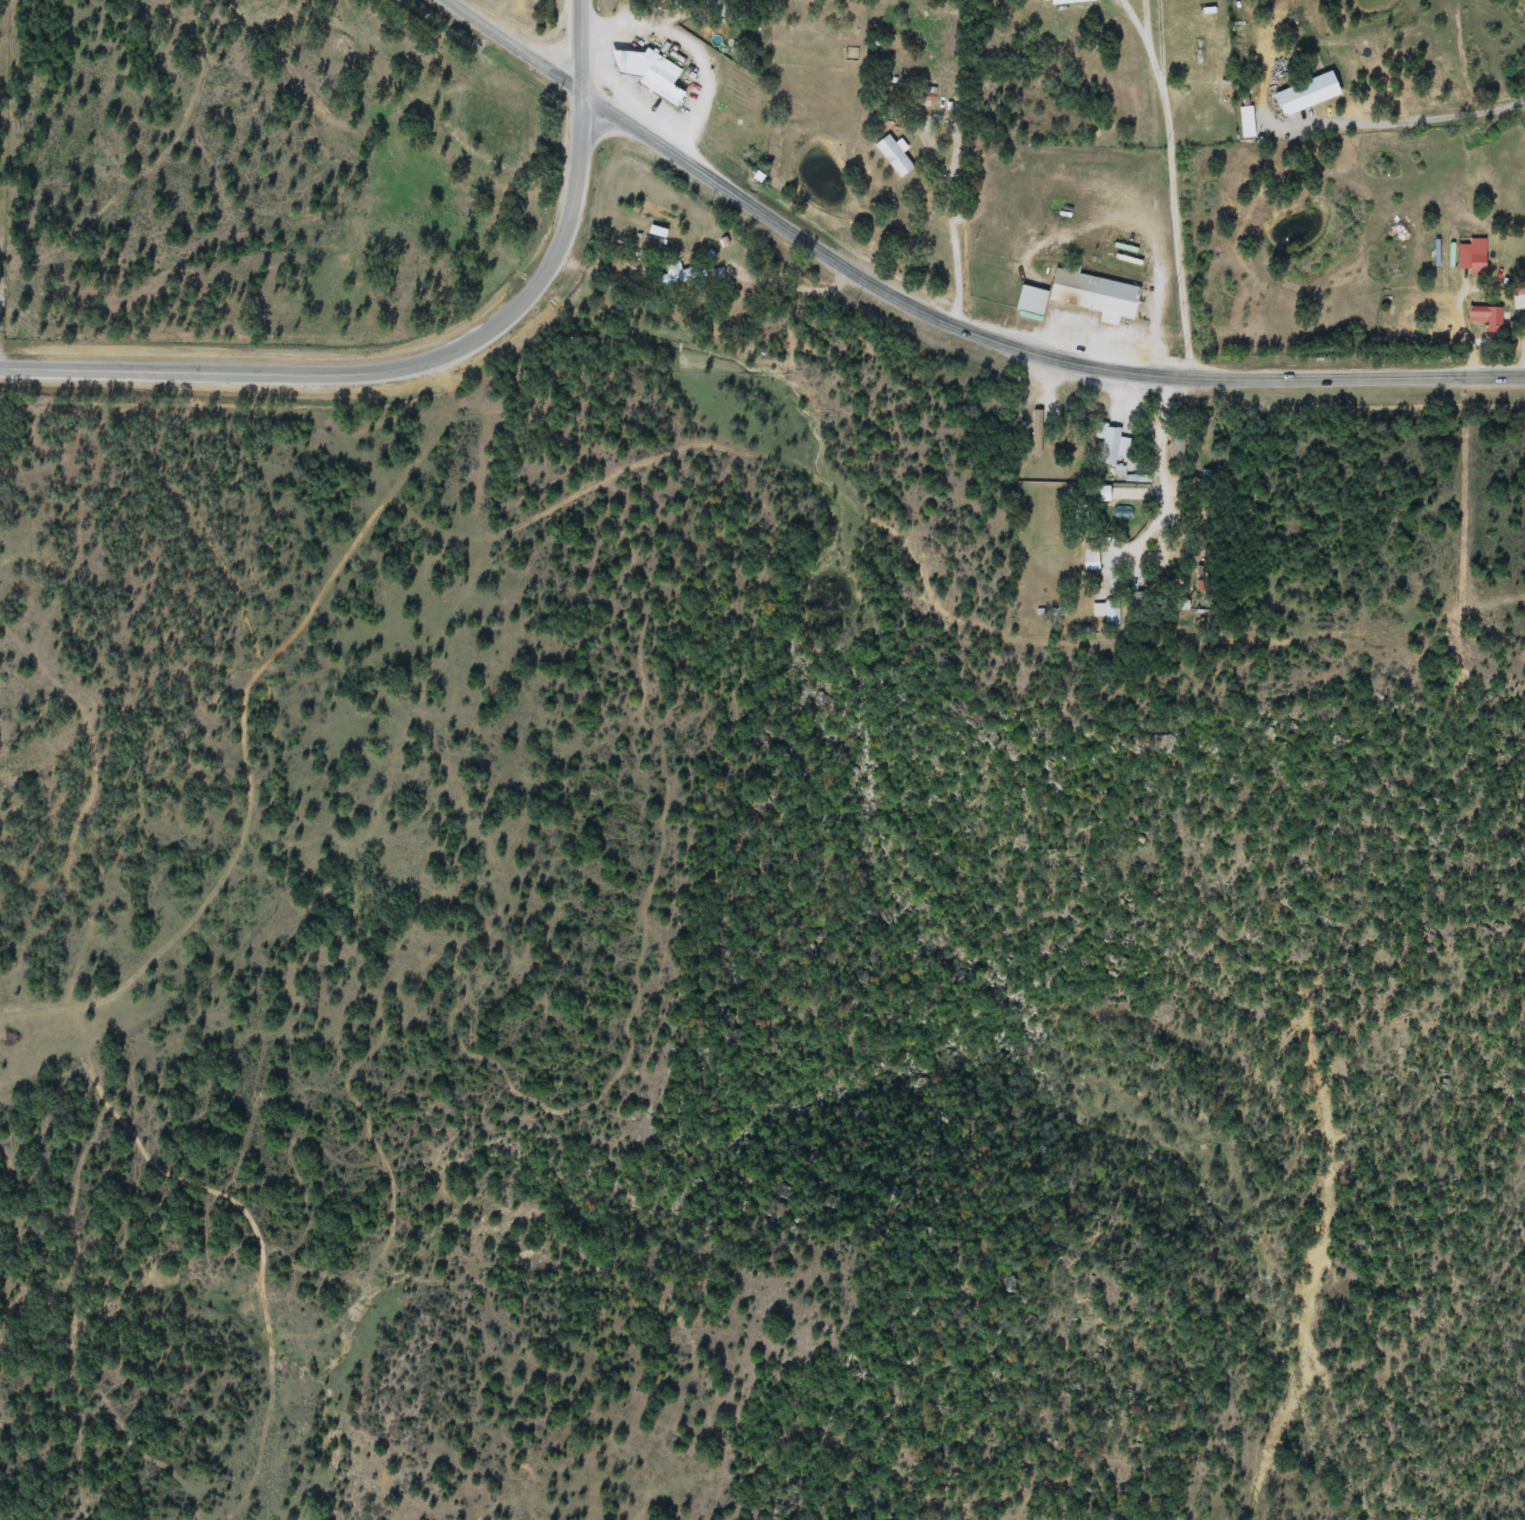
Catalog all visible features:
building: (1071, 2)
building: (719, 10)
road: (694, 44)
road: (510, 49)
gas station: (631, 60)
building: (1192, 60)
building: (664, 72)
road: (1103, 82)
building: (1307, 94)
road: (1411, 121)
building: (894, 157)
road: (1197, 170)
road: (1046, 235)
road: (1360, 251)
building: (1473, 257)
road: (951, 262)
building: (673, 276)
road: (787, 285)
building: (1523, 287)
road: (1157, 293)
building: (1082, 295)
road: (942, 317)
building: (1488, 319)
road: (427, 360)
road: (1441, 372)
building: (1037, 434)
building: (1108, 443)
building: (1178, 448)
building: (1091, 557)
building: (1107, 613)

